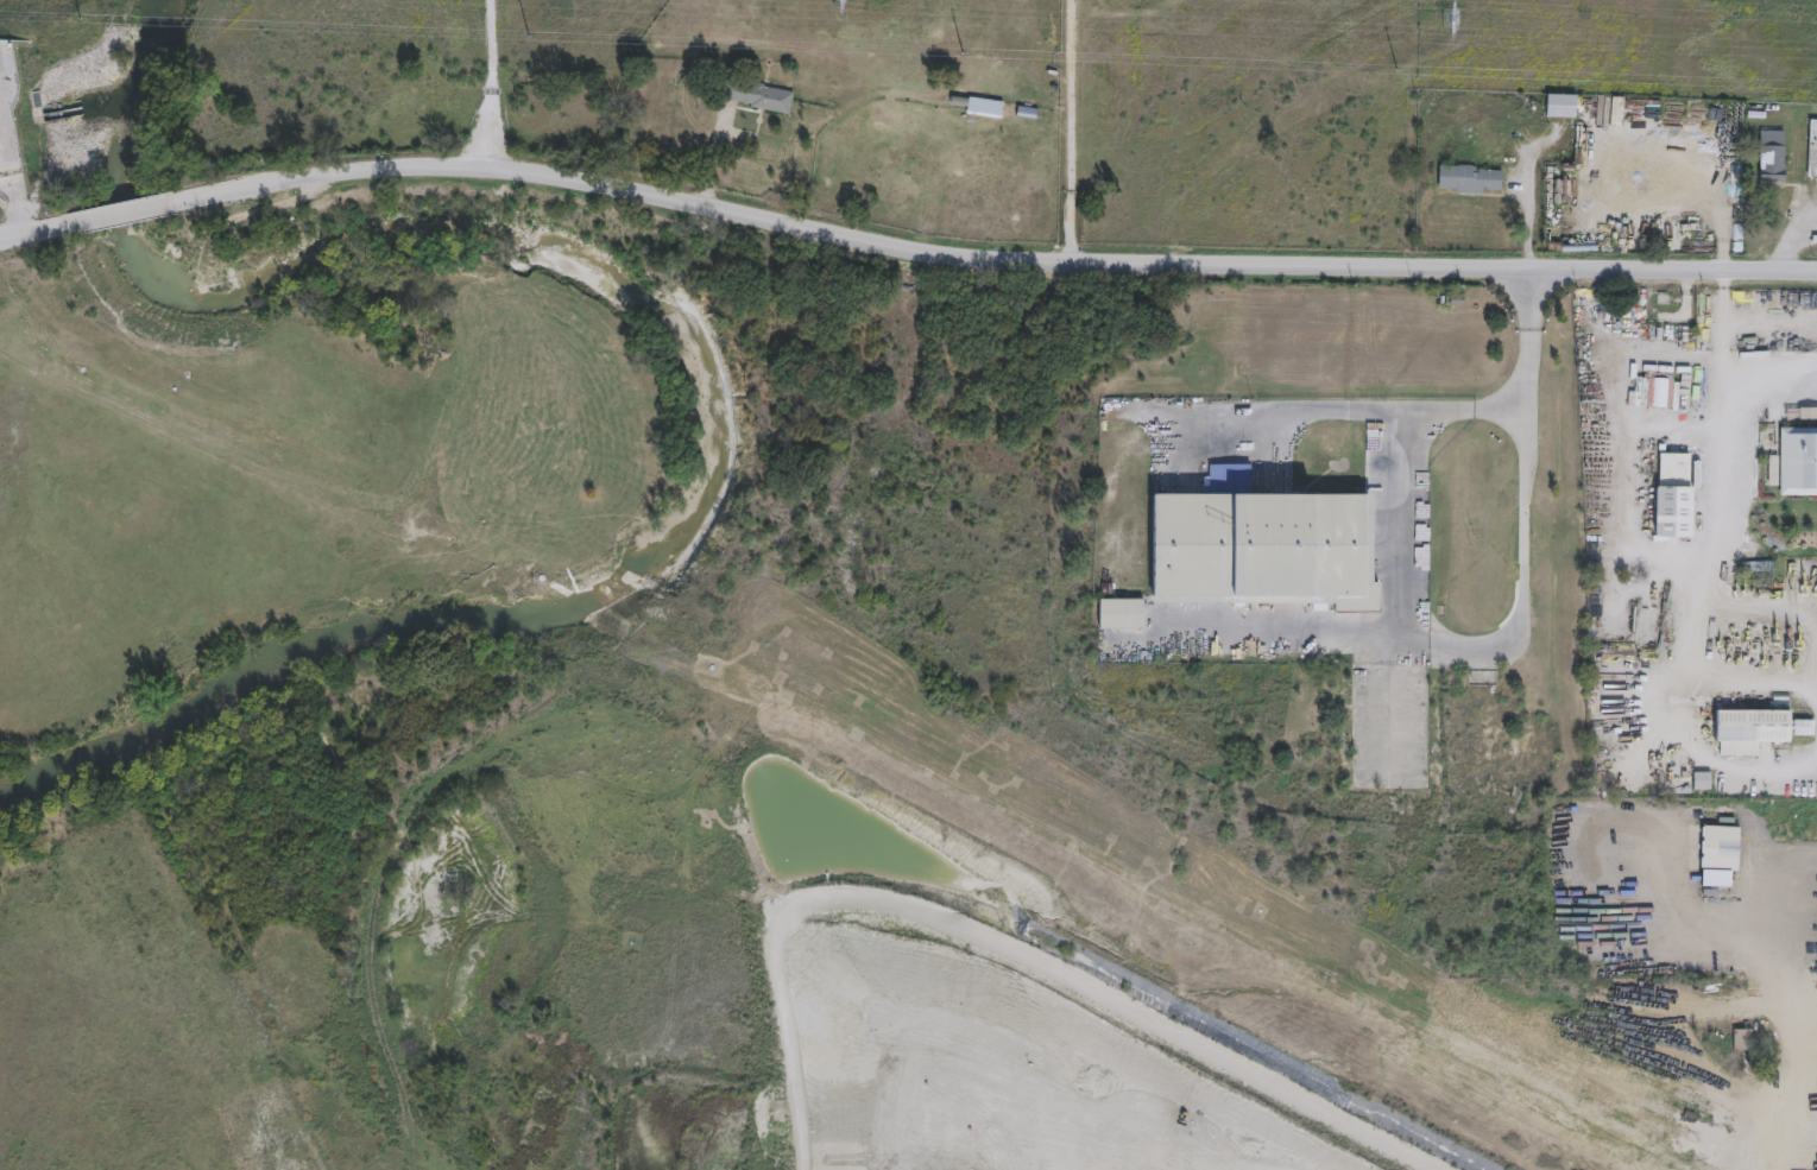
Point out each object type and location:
power tower: (1444, 15)
road: (486, 82)
road: (1073, 131)
building: (0, 144)
road: (13, 175)
road: (146, 210)
road: (21, 235)
road: (1797, 245)
road: (1027, 261)
road: (1722, 368)
road: (1293, 411)
building: (1797, 462)
road: (1398, 464)
building: (1670, 495)
building: (1275, 548)
road: (1692, 584)
building: (1127, 613)
road: (1518, 619)
road: (1816, 688)
building: (1749, 726)
building: (1802, 727)
road: (1408, 758)
road: (1716, 761)
building: (1717, 848)
road: (1679, 1016)
building: (1740, 1039)
building: (1750, 1081)
road: (1793, 1112)

